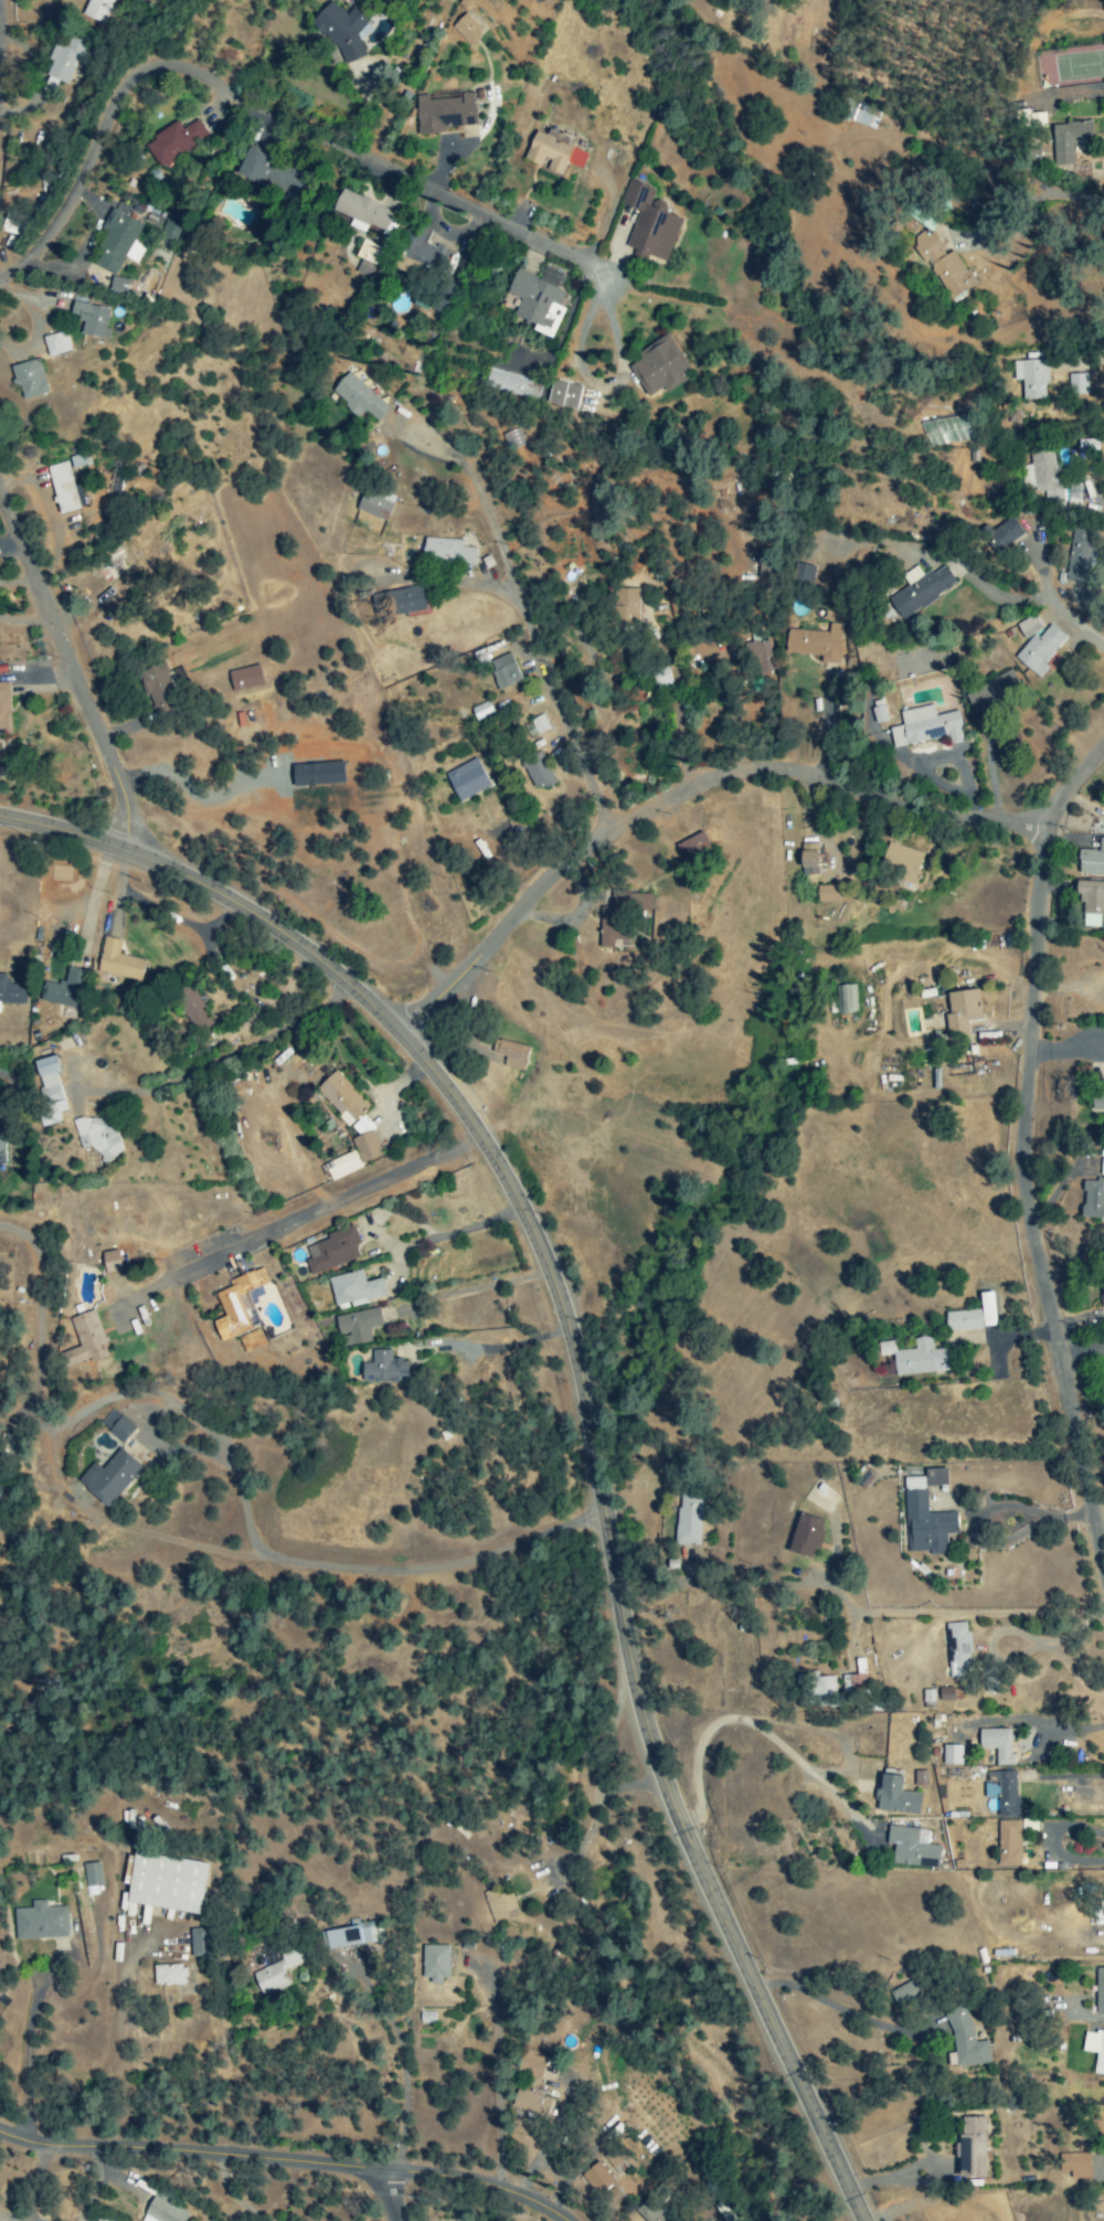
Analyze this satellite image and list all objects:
building: (97, 10)
building: (466, 29)
building: (340, 30)
building: (62, 66)
road: (262, 109)
building: (444, 111)
building: (862, 116)
building: (172, 141)
building: (1069, 142)
building: (553, 152)
building: (250, 166)
building: (913, 181)
building: (361, 212)
building: (649, 224)
building: (167, 232)
building: (117, 243)
building: (421, 249)
building: (368, 259)
building: (942, 267)
building: (433, 296)
building: (538, 300)
building: (89, 320)
building: (55, 344)
building: (658, 368)
building: (1030, 379)
building: (28, 380)
building: (1076, 384)
building: (512, 385)
building: (563, 395)
building: (359, 400)
building: (1040, 477)
building: (62, 488)
road: (478, 496)
building: (374, 504)
building: (446, 551)
building: (1081, 555)
building: (763, 564)
building: (920, 591)
building: (401, 602)
building: (628, 609)
building: (815, 644)
building: (1039, 651)
building: (757, 659)
building: (503, 672)
road: (75, 674)
building: (174, 678)
building: (244, 679)
building: (155, 683)
building: (992, 693)
building: (4, 710)
building: (480, 712)
building: (878, 712)
road: (567, 713)
building: (925, 727)
building: (535, 772)
road: (731, 776)
building: (466, 780)
building: (688, 847)
building: (1091, 860)
building: (902, 863)
building: (808, 864)
building: (826, 894)
building: (1091, 904)
building: (619, 916)
building: (117, 961)
building: (64, 990)
building: (11, 992)
building: (845, 1000)
building: (190, 1013)
building: (959, 1017)
building: (510, 1055)
road: (221, 1059)
building: (49, 1088)
building: (340, 1098)
building: (1097, 1104)
building: (99, 1137)
building: (365, 1148)
building: (1, 1150)
building: (341, 1167)
building: (1102, 1168)
road: (1027, 1198)
building: (1092, 1201)
road: (336, 1202)
building: (331, 1252)
building: (110, 1262)
building: (1101, 1300)
building: (237, 1305)
building: (973, 1317)
road: (41, 1318)
building: (355, 1327)
building: (974, 1337)
building: (251, 1341)
building: (84, 1342)
building: (914, 1358)
building: (383, 1369)
road: (586, 1394)
building: (117, 1426)
building: (109, 1478)
building: (1, 1488)
building: (925, 1516)
building: (688, 1521)
building: (805, 1538)
road: (381, 1566)
road: (852, 1613)
building: (957, 1646)
building: (817, 1691)
building: (997, 1745)
building: (951, 1755)
road: (736, 1772)
building: (920, 1778)
building: (1005, 1793)
building: (895, 1795)
building: (1008, 1843)
building: (912, 1848)
building: (92, 1879)
building: (166, 1882)
building: (499, 1904)
building: (40, 1922)
building: (346, 1936)
building: (198, 1944)
road: (138, 1962)
building: (434, 1964)
building: (276, 1970)
building: (168, 1976)
building: (1098, 1991)
building: (904, 1996)
road: (839, 2012)
building: (426, 2018)
building: (964, 2041)
building: (1094, 2050)
building: (531, 2065)
road: (362, 2071)
road: (505, 2084)
building: (531, 2104)
building: (970, 2147)
road: (285, 2161)
building: (1075, 2166)
building: (597, 2179)
road: (388, 2196)
building: (652, 2210)
building: (162, 2211)

